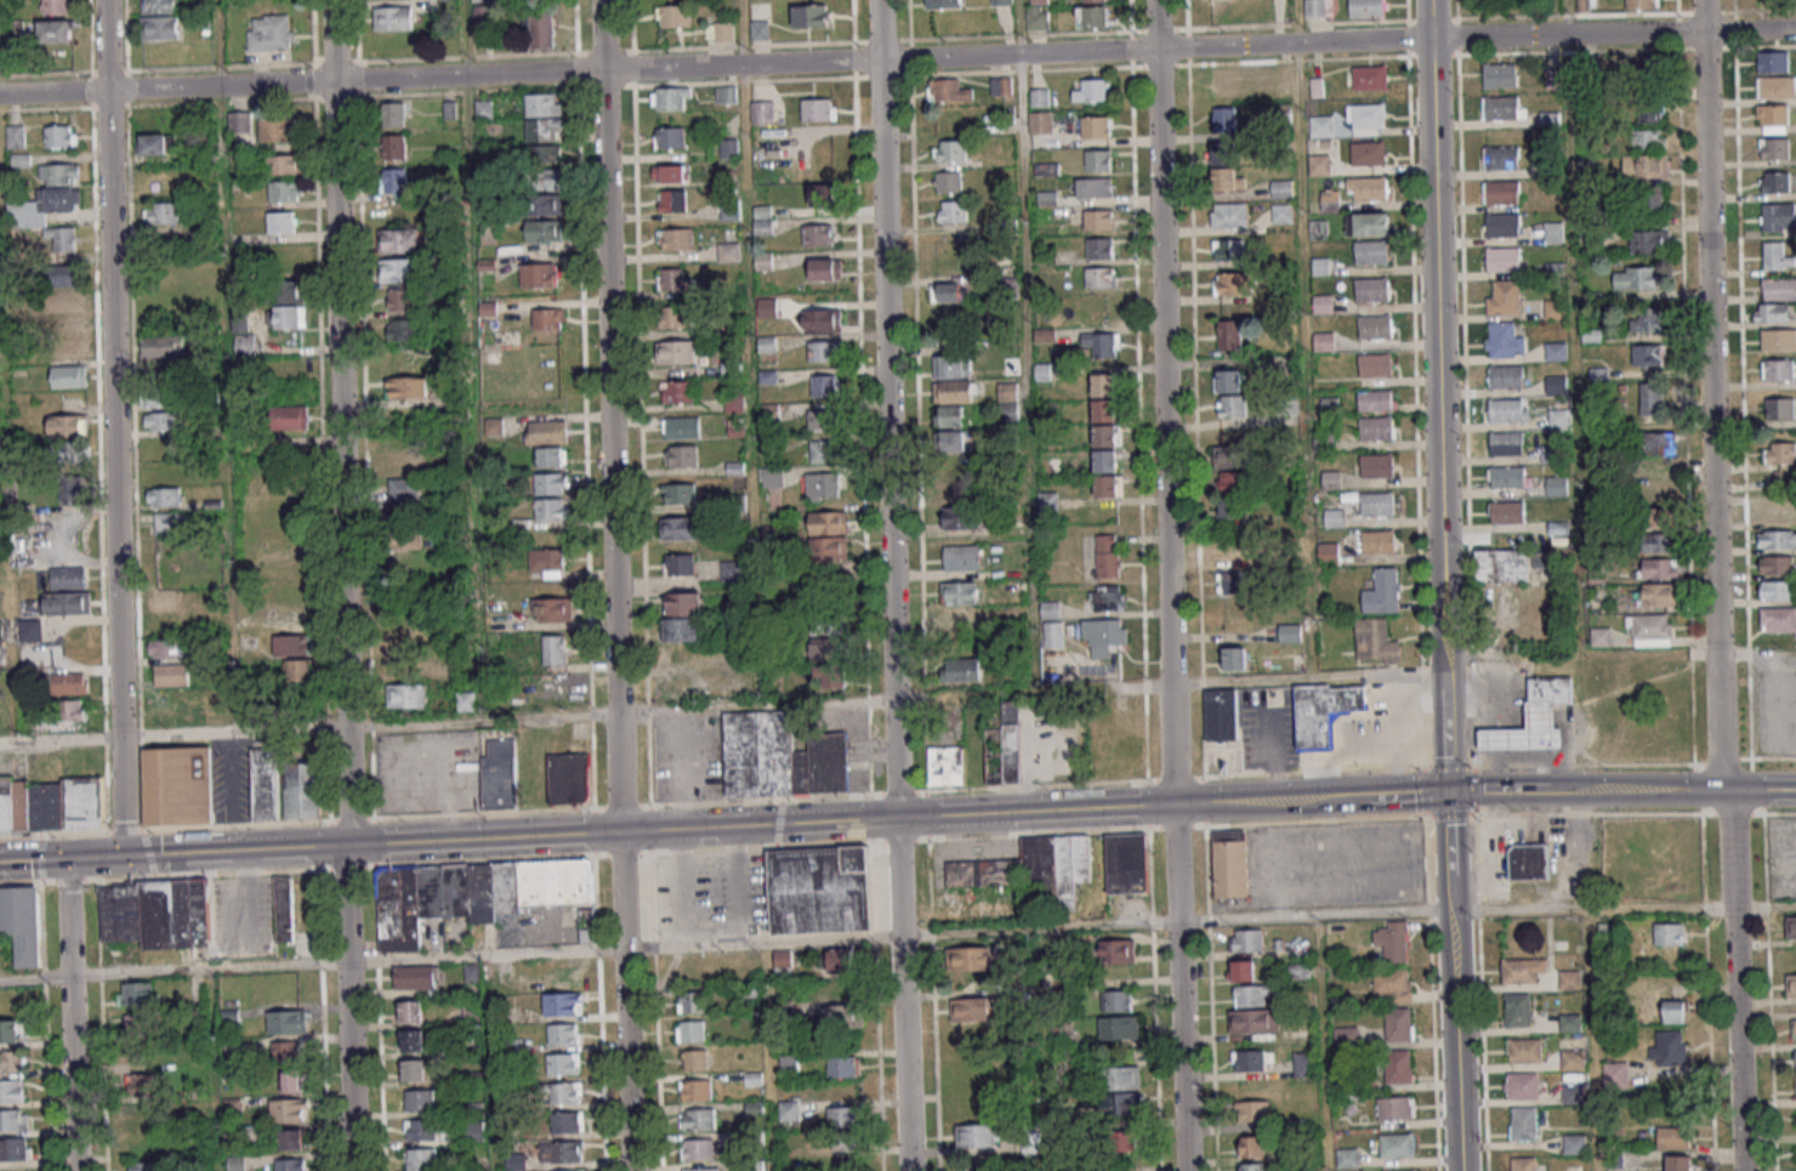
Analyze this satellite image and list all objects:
building: (1096, 0)
building: (1001, 1)
building: (944, 2)
building: (1642, 4)
building: (57, 6)
building: (160, 6)
building: (1319, 7)
building: (1368, 7)
park: (1508, 7)
building: (809, 15)
building: (673, 16)
building: (1092, 16)
building: (393, 17)
building: (1038, 17)
building: (160, 27)
building: (539, 29)
building: (758, 29)
building: (56, 30)
building: (721, 30)
building: (269, 32)
road: (897, 58)
building: (1773, 62)
building: (1648, 68)
building: (1500, 76)
building: (1223, 80)
building: (1369, 80)
building: (1000, 85)
building: (1775, 86)
building: (948, 90)
building: (1092, 91)
building: (726, 95)
road: (1019, 95)
building: (670, 98)
building: (483, 109)
building: (818, 109)
building: (1500, 109)
building: (1650, 109)
building: (762, 112)
building: (393, 114)
building: (544, 116)
building: (1368, 118)
building: (1773, 118)
building: (1223, 119)
building: (1548, 119)
building: (240, 121)
building: (1040, 123)
building: (1096, 126)
building: (1322, 127)
building: (277, 129)
building: (16, 136)
building: (59, 136)
building: (669, 137)
building: (1650, 138)
building: (158, 146)
building: (393, 146)
building: (1774, 148)
building: (949, 150)
building: (544, 153)
building: (1366, 154)
building: (1098, 159)
building: (1502, 159)
building: (285, 164)
building: (1652, 165)
building: (1319, 166)
building: (1226, 167)
building: (1551, 169)
building: (669, 172)
building: (545, 178)
building: (394, 180)
building: (948, 181)
building: (1775, 181)
building: (1093, 187)
building: (284, 189)
building: (1370, 189)
building: (1281, 191)
building: (823, 193)
building: (1501, 194)
building: (49, 195)
building: (672, 199)
building: (1330, 199)
building: (1650, 201)
building: (544, 205)
building: (953, 211)
building: (163, 214)
building: (1281, 214)
building: (1229, 215)
building: (1779, 216)
building: (763, 220)
building: (1098, 220)
building: (282, 221)
building: (1502, 226)
building: (1370, 227)
building: (544, 231)
building: (1553, 233)
building: (817, 234)
building: (63, 238)
building: (677, 239)
building: (396, 240)
building: (1649, 241)
building: (1099, 248)
building: (728, 250)
building: (1229, 250)
building: (1370, 252)
building: (1777, 256)
building: (1502, 261)
building: (1320, 267)
building: (824, 269)
building: (397, 271)
building: (538, 274)
building: (66, 277)
building: (1101, 277)
building: (1635, 277)
building: (673, 280)
building: (1232, 284)
building: (1779, 289)
building: (949, 291)
building: (1371, 291)
building: (67, 300)
building: (402, 300)
building: (1504, 300)
building: (1323, 305)
building: (288, 306)
building: (1555, 311)
building: (1772, 312)
building: (676, 317)
building: (549, 318)
building: (822, 319)
building: (1648, 320)
building: (70, 325)
building: (1374, 329)
building: (404, 332)
building: (1229, 334)
building: (1779, 339)
building: (1324, 342)
building: (1504, 342)
building: (1102, 343)
road: (1437, 343)
building: (161, 346)
building: (68, 349)
building: (675, 351)
building: (823, 351)
building: (1556, 352)
building: (1649, 354)
building: (1011, 364)
building: (951, 366)
building: (1375, 366)
building: (1778, 369)
building: (1045, 371)
building: (69, 376)
building: (1506, 377)
building: (1227, 380)
road: (1741, 380)
building: (824, 385)
building: (1556, 386)
building: (408, 387)
building: (1104, 387)
building: (677, 391)
building: (954, 391)
building: (163, 396)
building: (1652, 398)
building: (1007, 400)
road: (1165, 402)
building: (1375, 402)
building: (732, 403)
building: (1232, 405)
building: (1780, 408)
road: (888, 409)
road: (1686, 410)
building: (1104, 413)
building: (1506, 413)
road: (610, 415)
building: (951, 415)
building: (289, 417)
building: (820, 419)
building: (1558, 420)
building: (163, 421)
road: (335, 422)
building: (68, 426)
road: (115, 427)
building: (681, 427)
building: (1375, 430)
building: (546, 431)
building: (1106, 438)
building: (953, 440)
building: (1659, 443)
building: (1506, 445)
building: (824, 451)
building: (73, 453)
building: (1550, 454)
building: (682, 455)
building: (551, 456)
building: (1232, 456)
building: (1781, 461)
building: (402, 462)
building: (1106, 464)
building: (1376, 467)
building: (772, 477)
building: (1507, 478)
building: (1234, 481)
building: (1331, 481)
building: (551, 483)
building: (823, 487)
building: (1556, 487)
building: (72, 488)
building: (404, 488)
building: (1107, 488)
building: (678, 493)
building: (1658, 494)
building: (164, 496)
building: (959, 501)
building: (1376, 505)
building: (551, 508)
building: (1239, 510)
building: (1777, 513)
building: (1507, 515)
building: (1334, 519)
building: (828, 522)
building: (166, 523)
building: (1599, 524)
building: (680, 527)
building: (405, 528)
building: (1777, 539)
building: (1656, 542)
building: (1379, 544)
building: (829, 547)
building: (1329, 553)
building: (1107, 555)
building: (961, 557)
building: (1235, 557)
building: (546, 562)
building: (680, 563)
building: (1506, 564)
building: (1778, 564)
building: (1660, 568)
building: (732, 570)
building: (1596, 574)
building: (68, 578)
building: (1239, 582)
road: (1716, 585)
building: (1777, 589)
building: (959, 592)
building: (1383, 592)
building: (1658, 595)
building: (1107, 598)
building: (165, 599)
building: (68, 603)
building: (683, 603)
building: (552, 609)
building: (1050, 609)
building: (962, 615)
building: (1778, 620)
building: (681, 629)
building: (30, 630)
building: (1652, 630)
building: (1053, 633)
building: (1102, 635)
building: (1599, 638)
building: (1375, 641)
building: (165, 647)
building: (828, 648)
building: (553, 649)
building: (0, 653)
building: (73, 654)
building: (299, 655)
building: (1234, 658)
building: (400, 665)
road: (1786, 667)
building: (962, 669)
building: (171, 675)
building: (830, 675)
building: (68, 682)
building: (551, 686)
road: (1030, 692)
building: (1551, 692)
building: (407, 695)
building: (465, 700)
road: (1478, 707)
building: (72, 710)
building: (1324, 712)
building: (1220, 716)
road: (308, 727)
building: (1528, 734)
road: (1447, 740)
road: (854, 745)
building: (1004, 747)
building: (780, 757)
road: (1522, 757)
road: (1773, 758)
building: (947, 764)
road: (684, 769)
building: (500, 773)
road: (1490, 775)
building: (569, 778)
road: (1173, 779)
building: (265, 783)
building: (177, 785)
building: (302, 790)
road: (1677, 790)
road: (1505, 792)
traffic signals: (1449, 794)
road: (1400, 795)
road: (1309, 798)
building: (51, 805)
road: (1451, 813)
road: (1595, 813)
road: (1733, 813)
road: (1774, 813)
road: (632, 831)
road: (976, 843)
road: (714, 849)
road: (1450, 851)
traffic signals: (124, 855)
traffic signals: (66, 859)
building: (1528, 860)
building: (1126, 863)
building: (1231, 865)
road: (1783, 866)
building: (1033, 870)
road: (1414, 880)
road: (740, 883)
road: (689, 887)
building: (819, 889)
building: (471, 893)
road: (246, 896)
road: (1280, 898)
building: (284, 906)
road: (1624, 909)
road: (1366, 911)
building: (157, 913)
road: (1233, 916)
building: (22, 923)
road: (1040, 927)
building: (1790, 927)
building: (1609, 932)
building: (1670, 933)
building: (1247, 939)
building: (1393, 942)
road: (625, 949)
building: (1116, 950)
building: (783, 959)
building: (971, 959)
building: (841, 960)
road: (174, 970)
building: (1243, 970)
building: (1522, 970)
building: (416, 977)
building: (1570, 979)
building: (1393, 985)
building: (1791, 985)
road: (1180, 988)
building: (137, 993)
road: (903, 994)
building: (1254, 995)
building: (1116, 1000)
road: (626, 1001)
building: (690, 1001)
building: (563, 1004)
road: (351, 1007)
building: (972, 1008)
building: (1518, 1008)
building: (411, 1011)
building: (1675, 1011)
road: (72, 1014)
building: (837, 1016)
building: (288, 1021)
building: (1255, 1021)
building: (1570, 1022)
building: (1399, 1023)
building: (138, 1024)
building: (1119, 1027)
building: (1795, 1029)
building: (12, 1030)
building: (690, 1030)
building: (564, 1033)
building: (413, 1040)
road: (1455, 1040)
road: (1593, 1040)
road: (1322, 1042)
road: (1048, 1048)
building: (1669, 1048)
building: (1524, 1050)
building: (288, 1051)
road: (767, 1056)
building: (694, 1059)
building: (1573, 1059)
building: (1249, 1061)
building: (1795, 1061)
building: (11, 1062)
building: (564, 1063)
building: (1305, 1063)
building: (842, 1065)
building: (1398, 1065)
building: (414, 1069)
building: (1615, 1074)
building: (1121, 1076)
building: (292, 1080)
building: (1522, 1085)
building: (144, 1086)
building: (1795, 1086)
building: (12, 1090)
building: (695, 1090)
building: (564, 1092)
building: (1573, 1093)
building: (419, 1099)
building: (1121, 1104)
building: (1397, 1108)
building: (289, 1109)
building: (789, 1110)
building: (1254, 1110)
building: (697, 1118)
building: (13, 1119)
building: (142, 1119)
building: (568, 1121)
building: (1523, 1122)
building: (845, 1127)
building: (424, 1129)
building: (977, 1135)
building: (250, 1136)
building: (1673, 1137)
building: (292, 1138)
building: (1122, 1141)
building: (1574, 1143)
building: (1397, 1144)
building: (1251, 1146)
building: (15, 1149)
building: (698, 1149)
building: (567, 1150)
building: (421, 1158)
building: (1347, 1158)
building: (1678, 1163)
building: (291, 1164)
building: (1523, 1164)
building: (144, 1166)
building: (1252, 1166)
building: (701, 1169)
building: (569, 1170)

